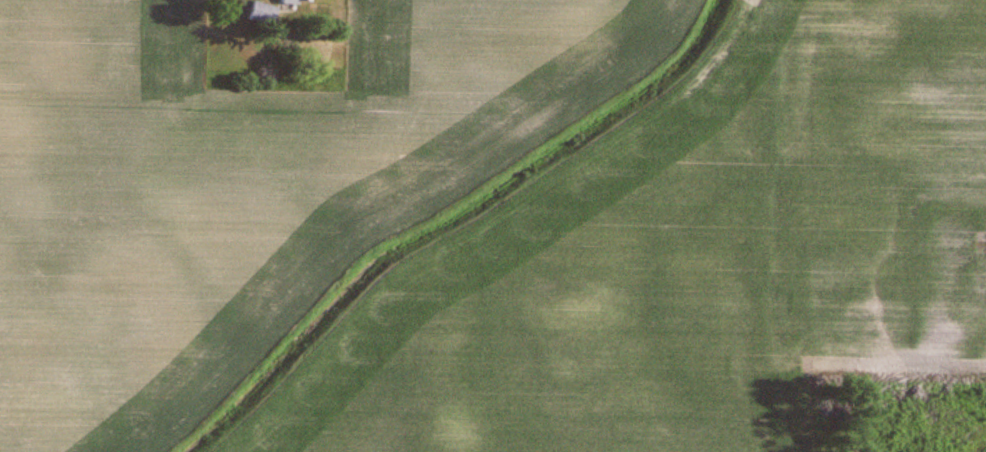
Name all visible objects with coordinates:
building: (294, 2)
building: (260, 14)

